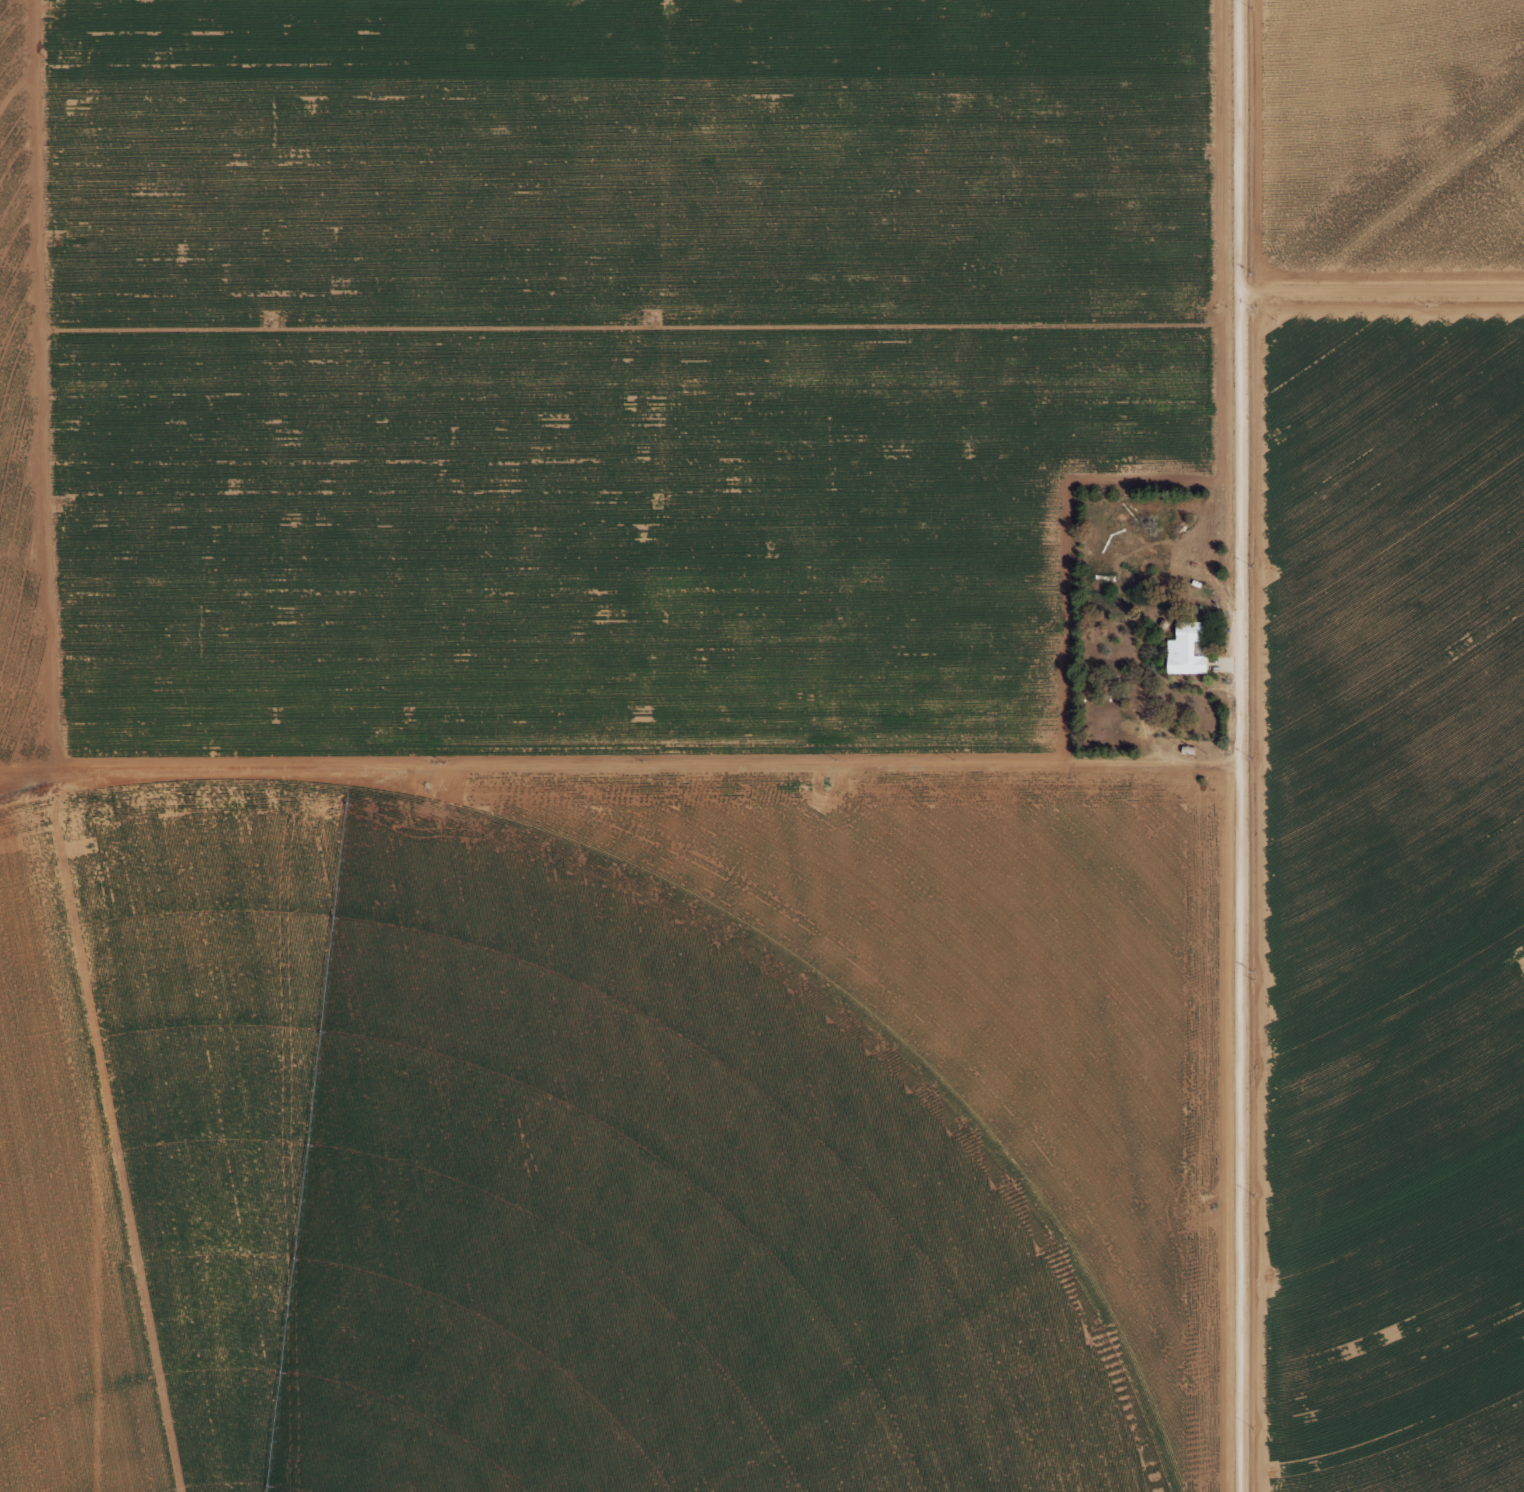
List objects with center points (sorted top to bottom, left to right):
road: (1379, 295)
building: (1184, 650)
road: (1236, 746)

